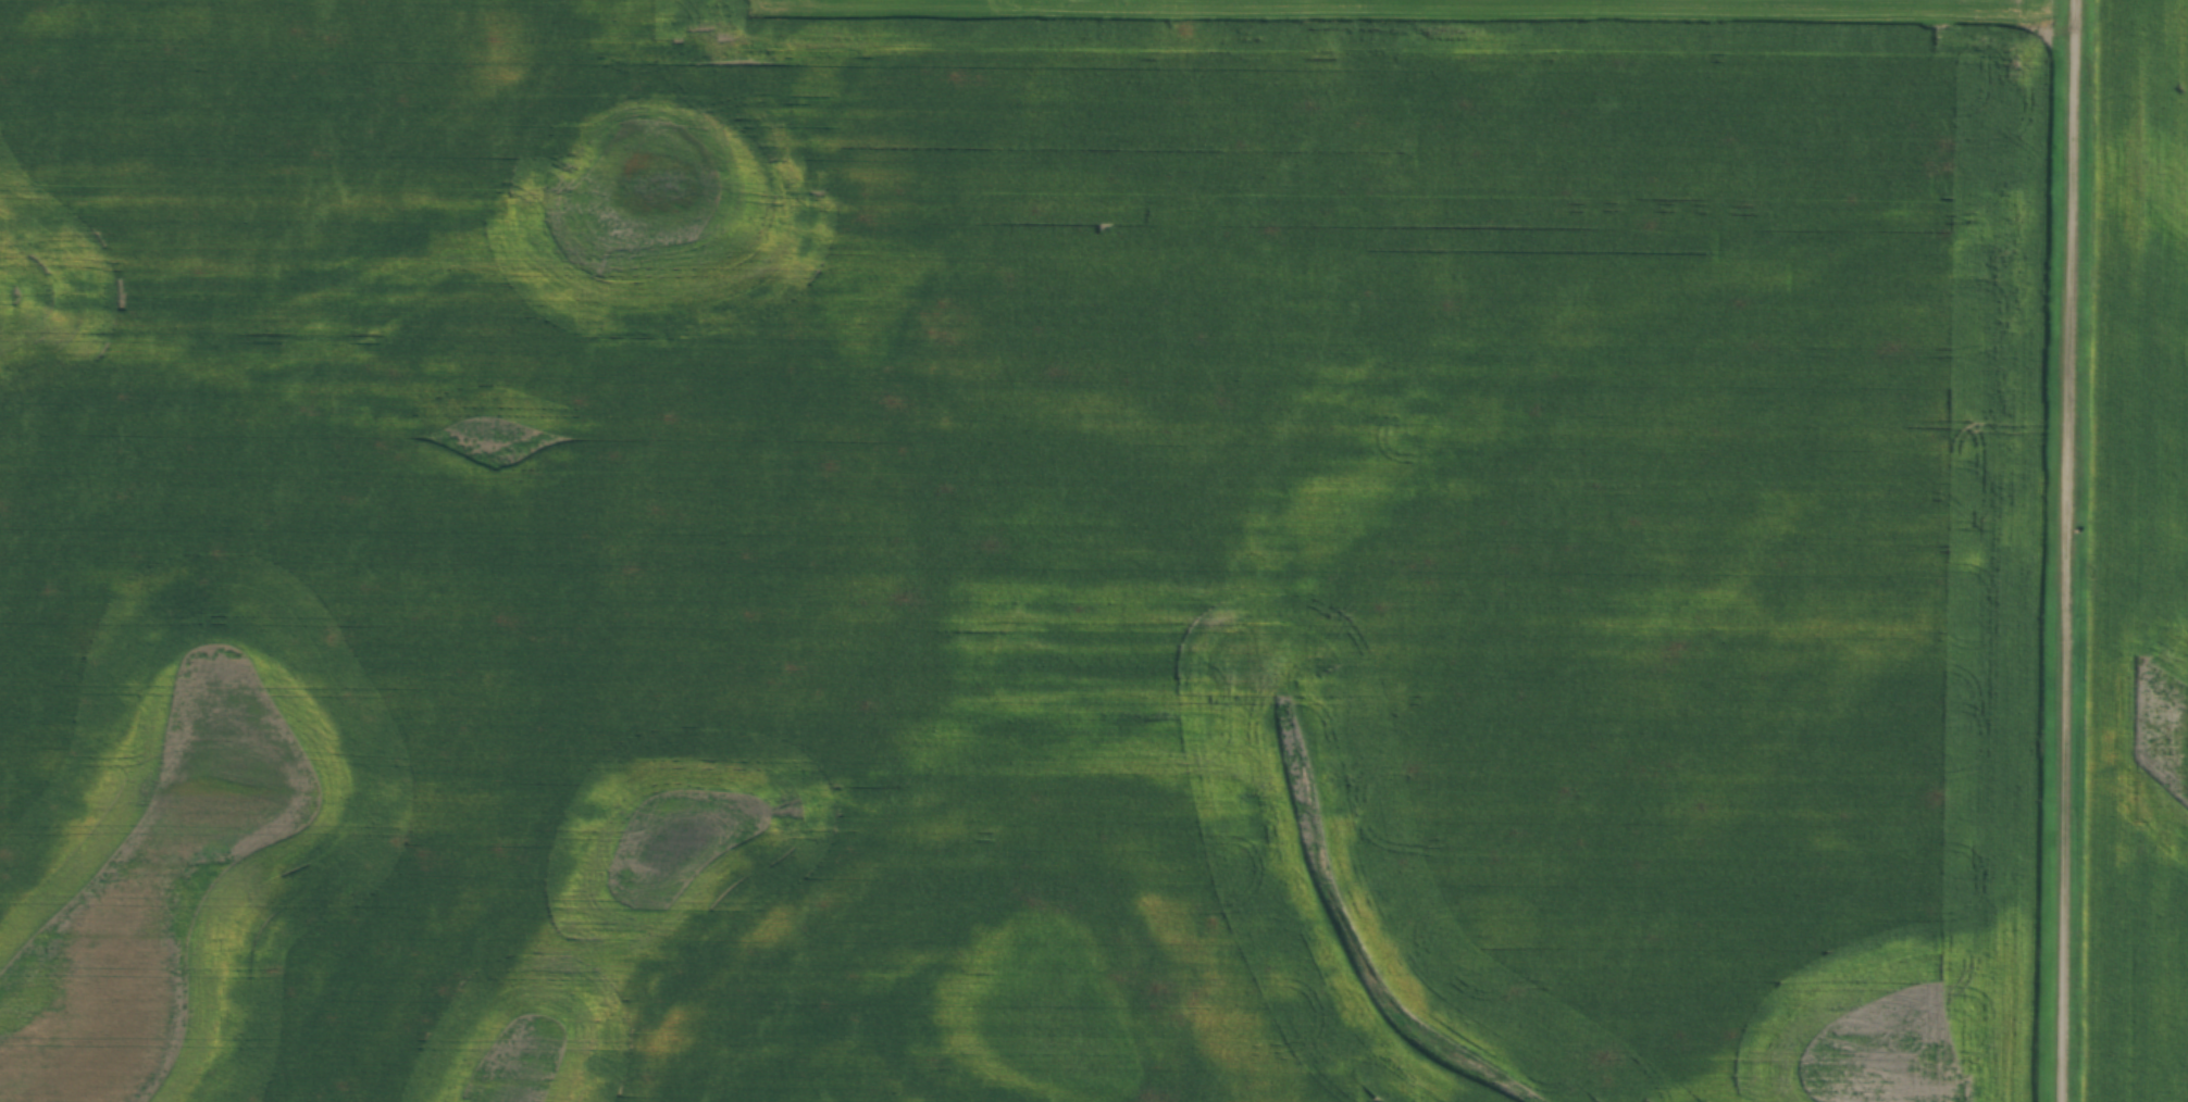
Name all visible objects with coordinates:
road: (2069, 551)

